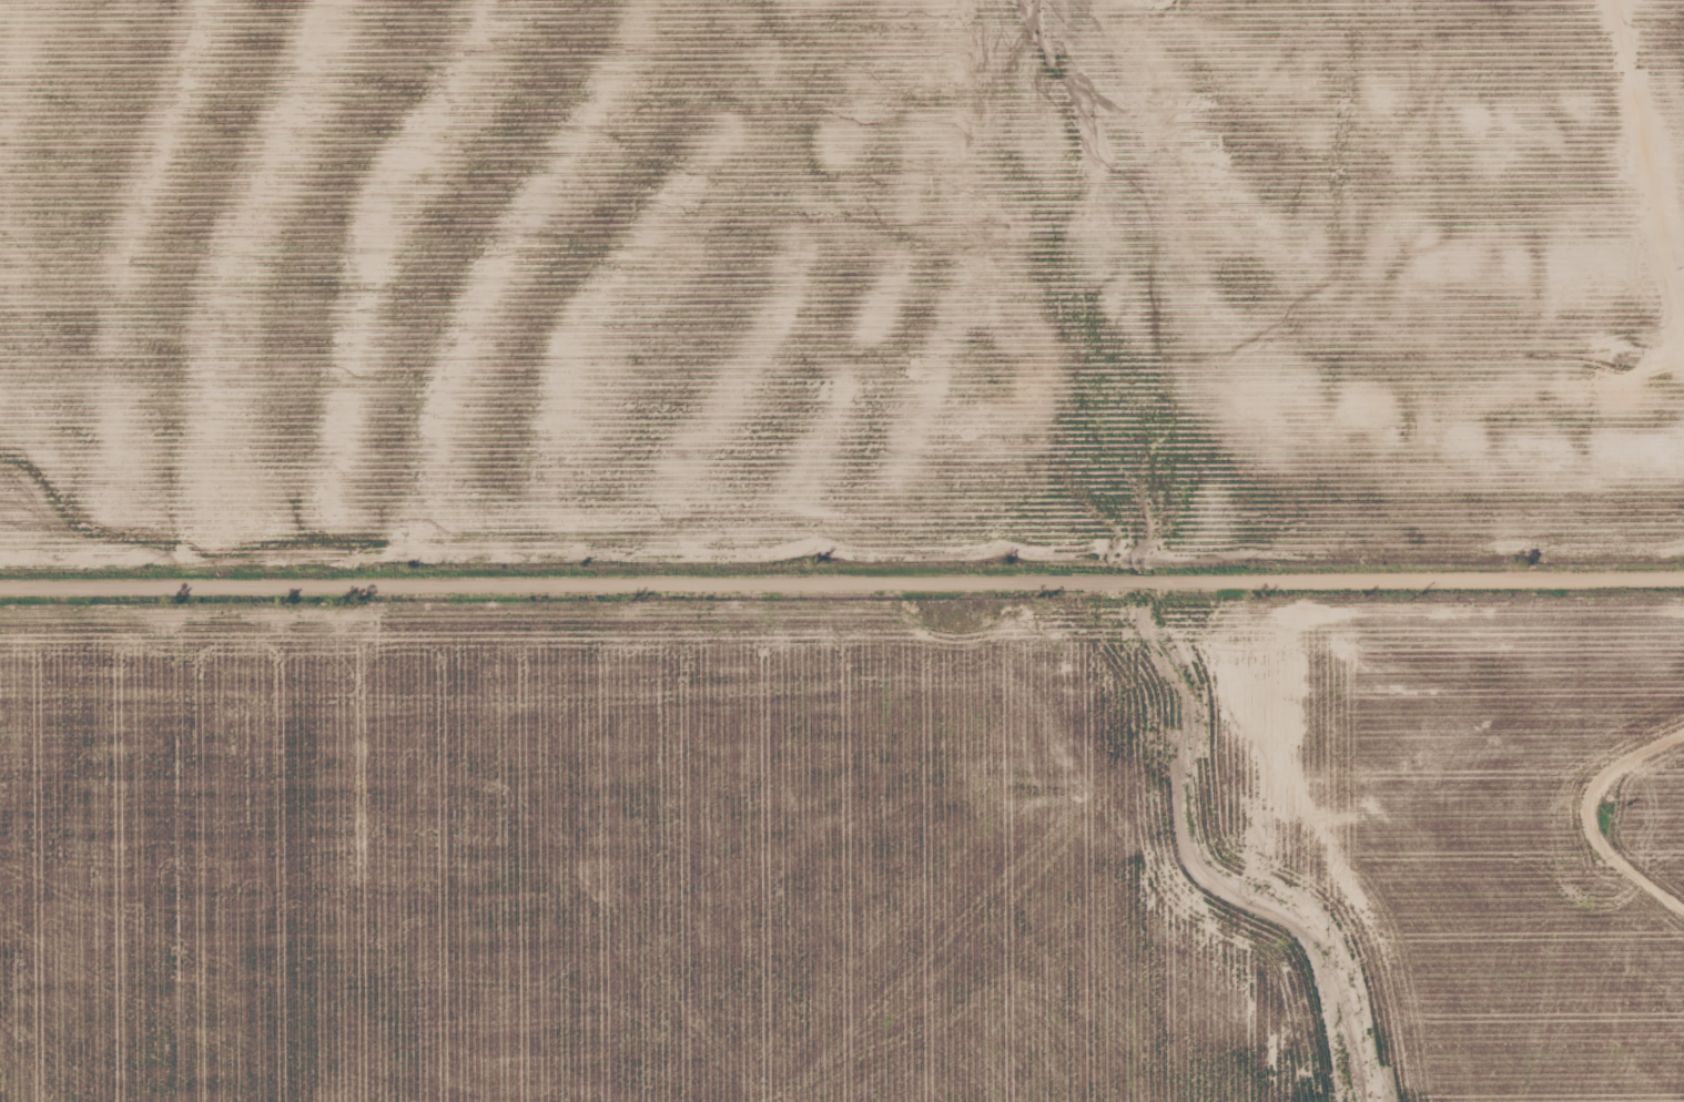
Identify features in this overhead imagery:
road: (1654, 100)
road: (1377, 368)
road: (842, 565)
road: (1609, 800)

